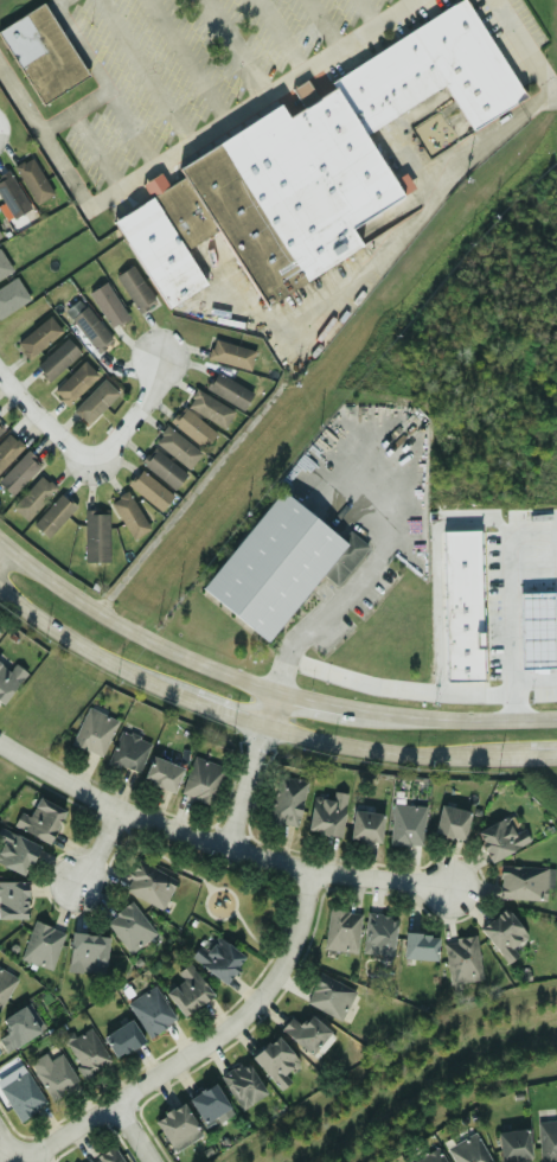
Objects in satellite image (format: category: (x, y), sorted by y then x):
road: (412, 1)
road: (326, 24)
road: (282, 36)
road: (526, 47)
road: (232, 49)
building: (40, 53)
road: (191, 60)
road: (147, 71)
road: (110, 75)
building: (302, 91)
road: (251, 106)
road: (139, 122)
road: (47, 130)
road: (102, 149)
building: (320, 165)
building: (32, 180)
building: (11, 196)
building: (4, 266)
building: (134, 288)
building: (11, 295)
building: (108, 305)
building: (90, 328)
building: (38, 337)
building: (230, 355)
building: (57, 359)
building: (75, 383)
building: (228, 390)
building: (95, 403)
building: (209, 408)
road: (133, 416)
road: (40, 422)
building: (191, 427)
building: (1, 428)
building: (177, 447)
building: (8, 451)
building: (162, 468)
building: (19, 472)
building: (149, 491)
building: (34, 497)
building: (129, 512)
building: (53, 515)
building: (97, 535)
road: (2, 544)
building: (280, 566)
road: (358, 586)
building: (461, 606)
road: (129, 628)
road: (508, 628)
road: (88, 655)
road: (533, 678)
building: (8, 679)
road: (398, 689)
road: (310, 701)
road: (225, 717)
road: (450, 721)
building: (92, 732)
road: (365, 747)
building: (127, 752)
road: (512, 754)
road: (250, 770)
building: (161, 773)
building: (201, 779)
building: (286, 800)
building: (327, 813)
building: (39, 819)
building: (452, 822)
building: (405, 823)
building: (365, 825)
building: (500, 838)
road: (215, 843)
road: (101, 845)
building: (15, 851)
building: (523, 882)
building: (148, 883)
building: (13, 900)
building: (129, 927)
building: (341, 931)
building: (378, 933)
building: (502, 934)
building: (41, 945)
building: (420, 946)
building: (87, 953)
building: (218, 958)
building: (461, 959)
building: (5, 984)
building: (187, 991)
building: (328, 997)
building: (151, 1011)
building: (19, 1027)
building: (307, 1035)
building: (122, 1039)
road: (196, 1048)
building: (87, 1052)
building: (275, 1061)
building: (55, 1077)
building: (242, 1085)
building: (20, 1093)
building: (209, 1104)
building: (178, 1128)
road: (139, 1134)
building: (548, 1141)
building: (513, 1145)
road: (6, 1149)
building: (467, 1150)
building: (107, 1156)
building: (430, 1157)

